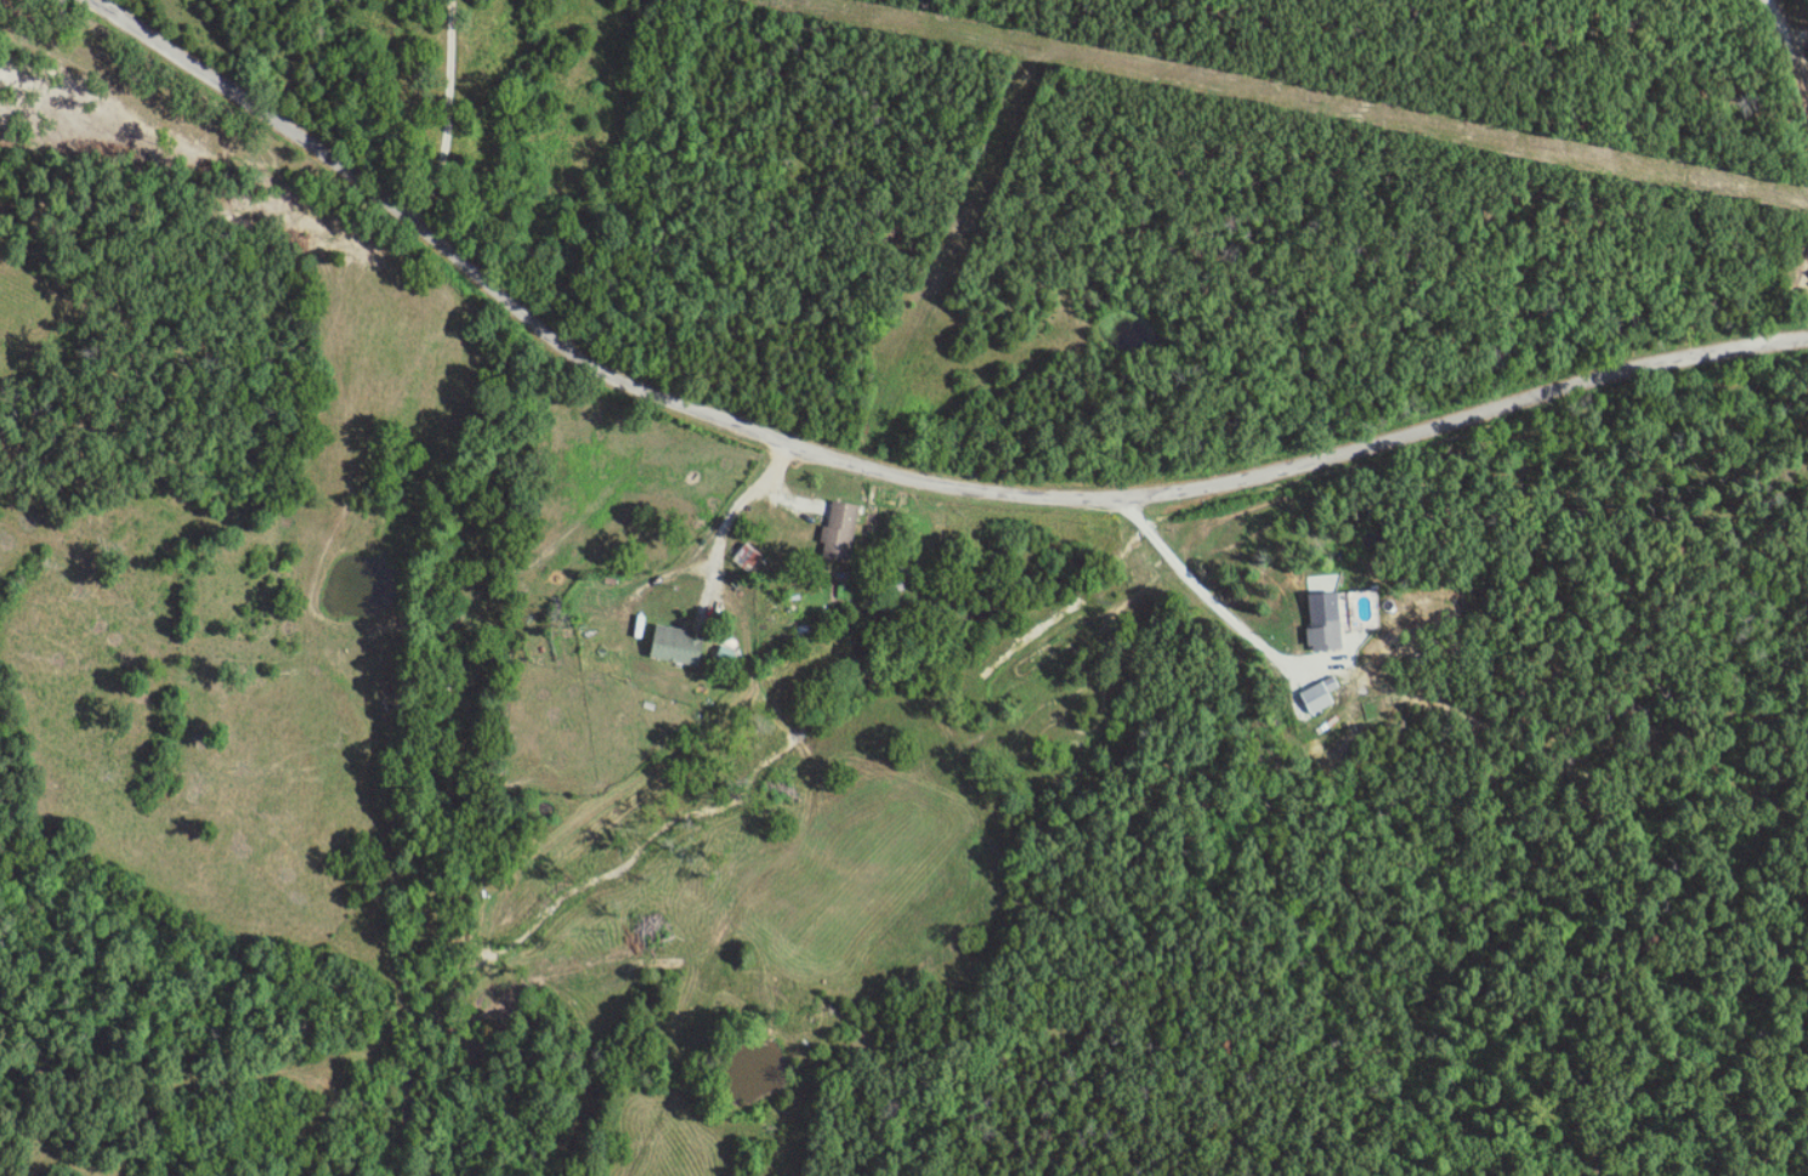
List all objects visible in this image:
road: (1796, 25)
road: (454, 117)
road: (899, 464)
road: (780, 521)
building: (837, 530)
building: (743, 557)
road: (1192, 583)
building: (1322, 620)
building: (671, 646)
building: (722, 654)
building: (1317, 694)

